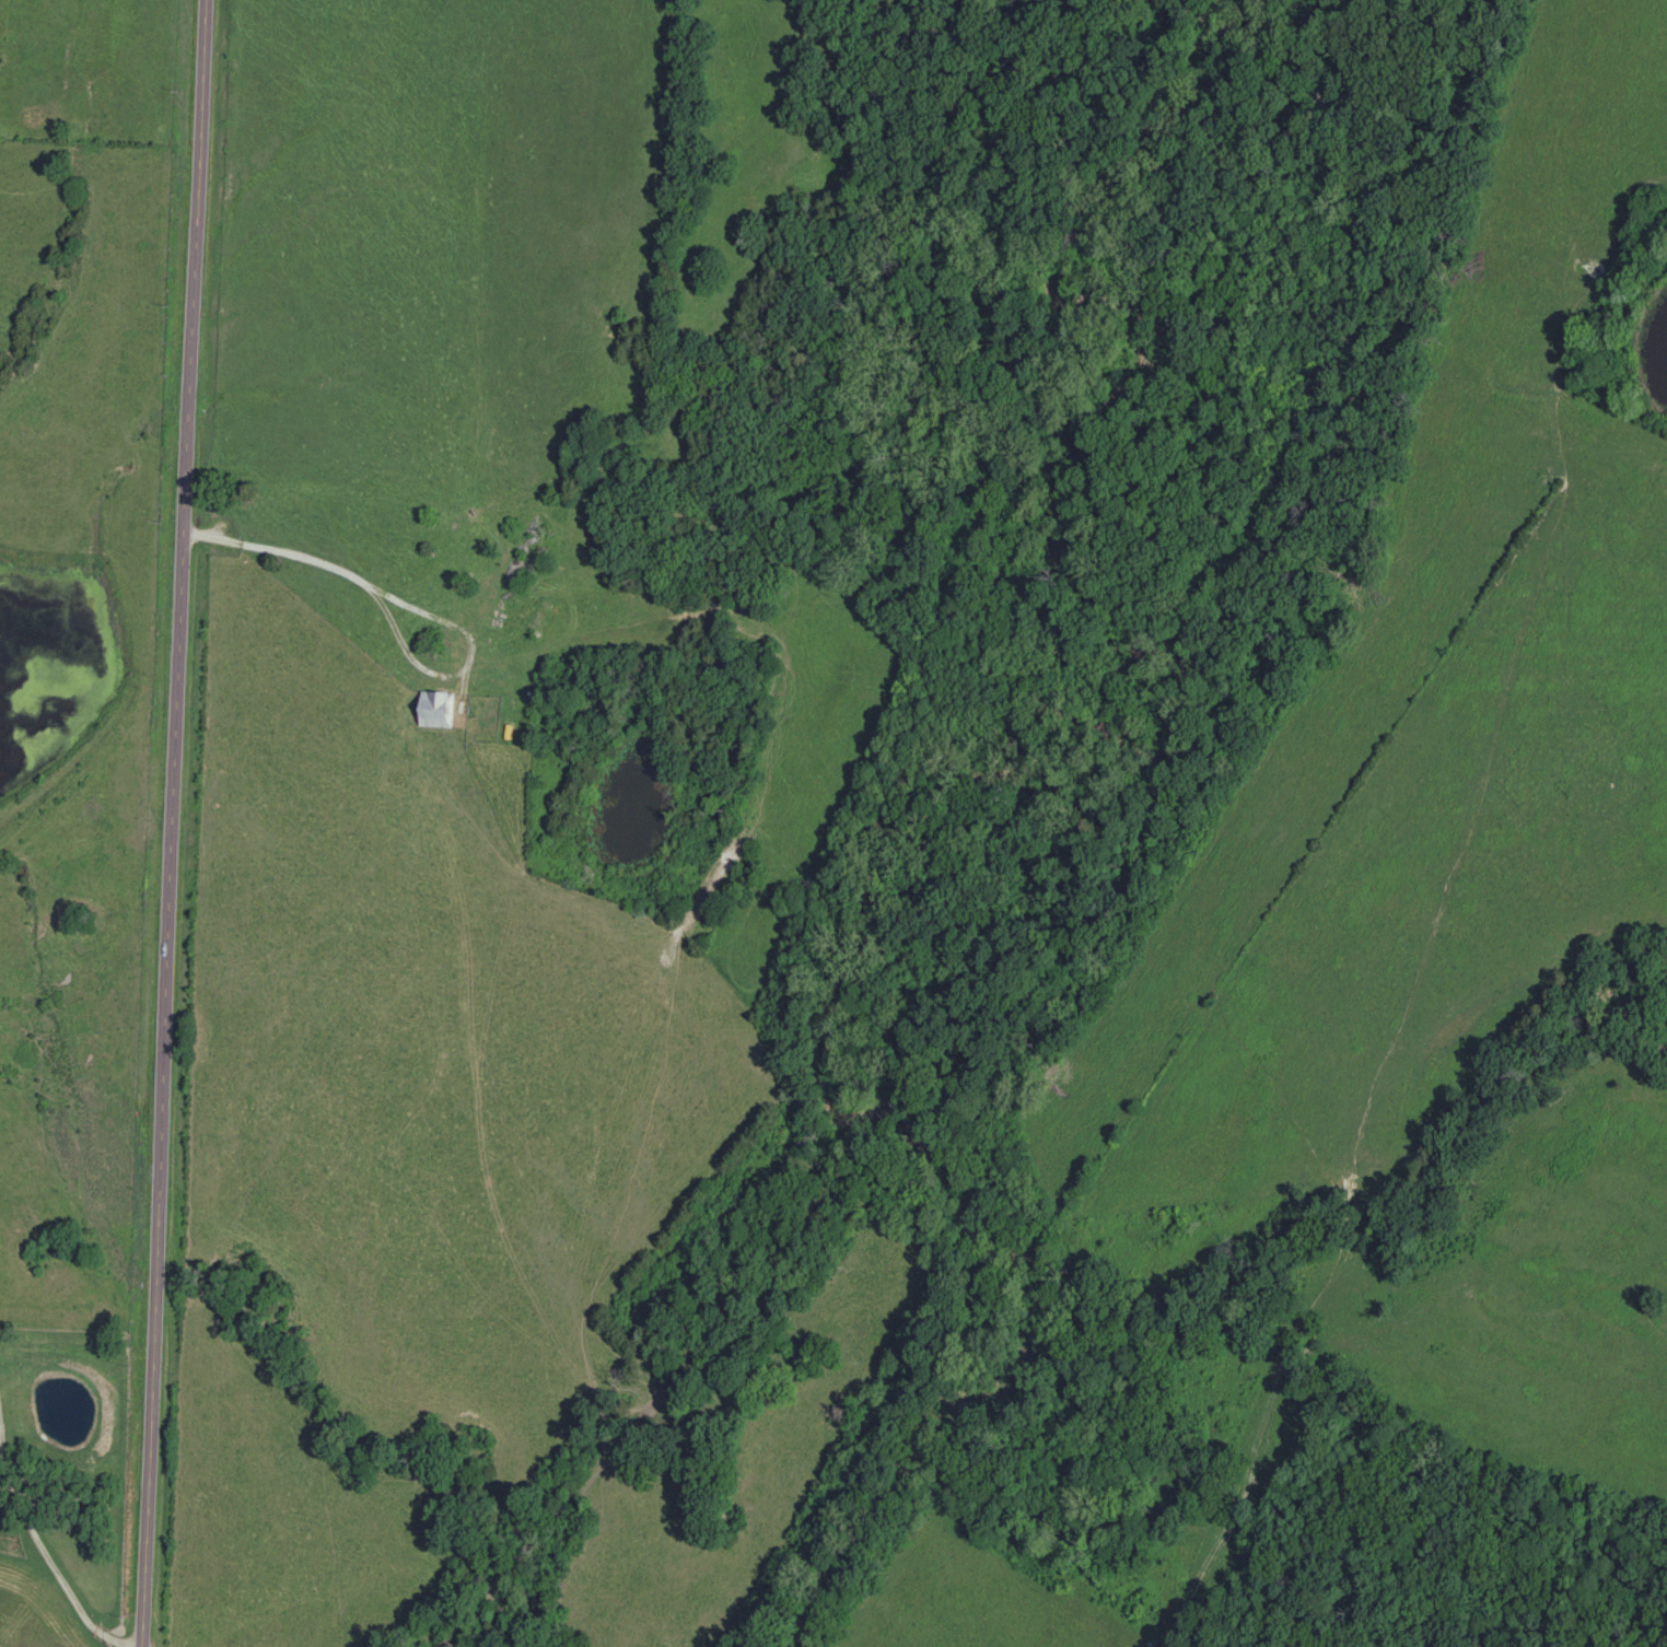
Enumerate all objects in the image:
parking lot: (207, 536)
road: (341, 568)
building: (440, 708)
road: (177, 822)
road: (44, 1558)

